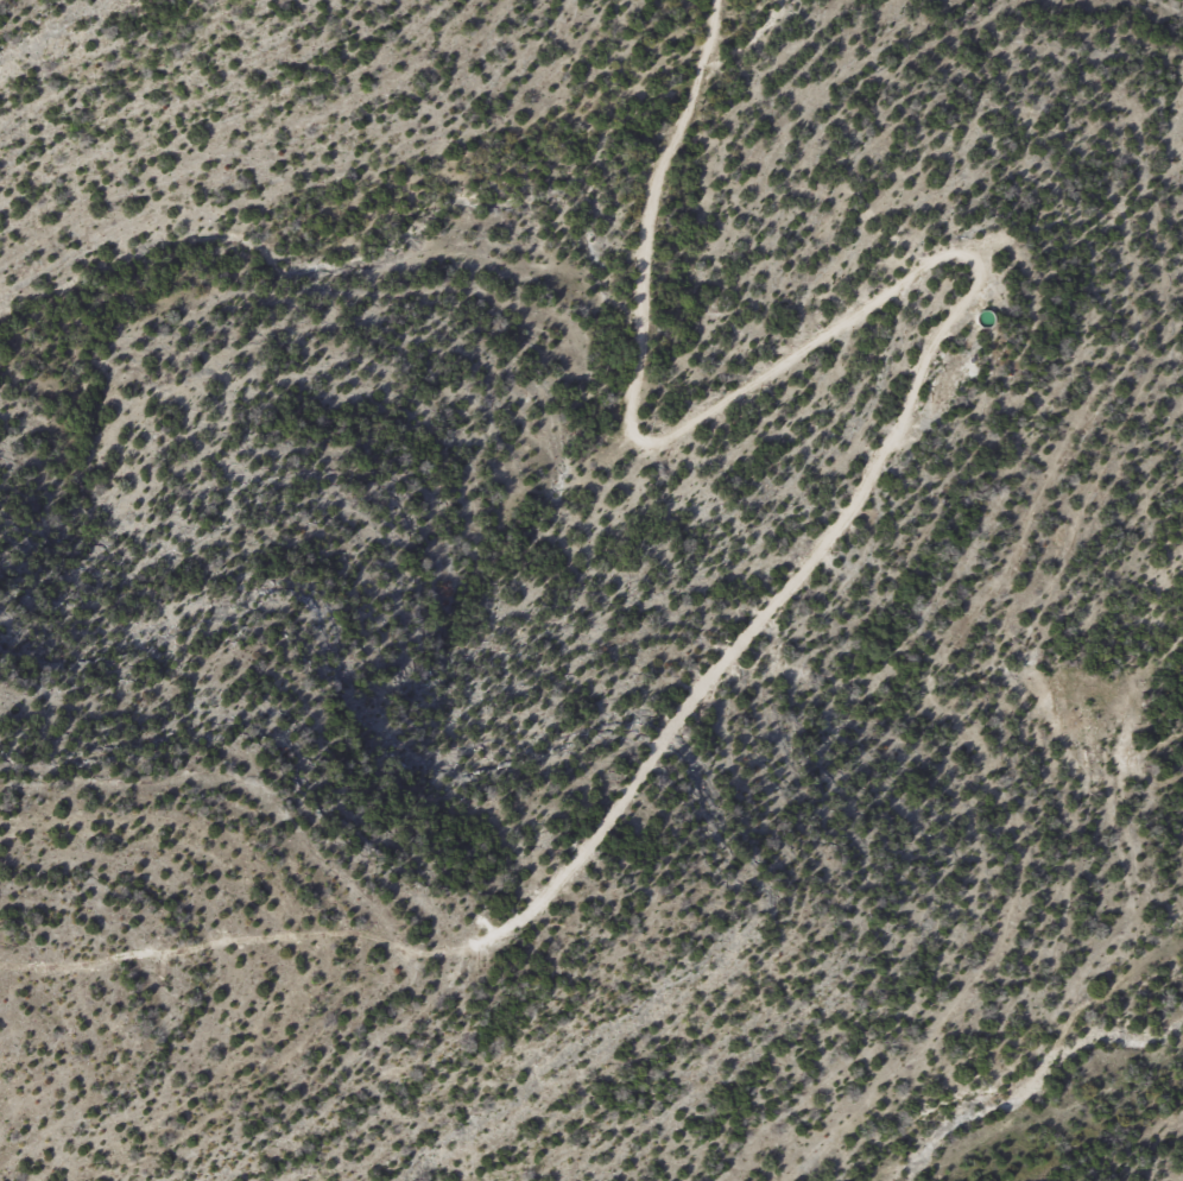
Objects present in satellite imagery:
road: (672, 437)

